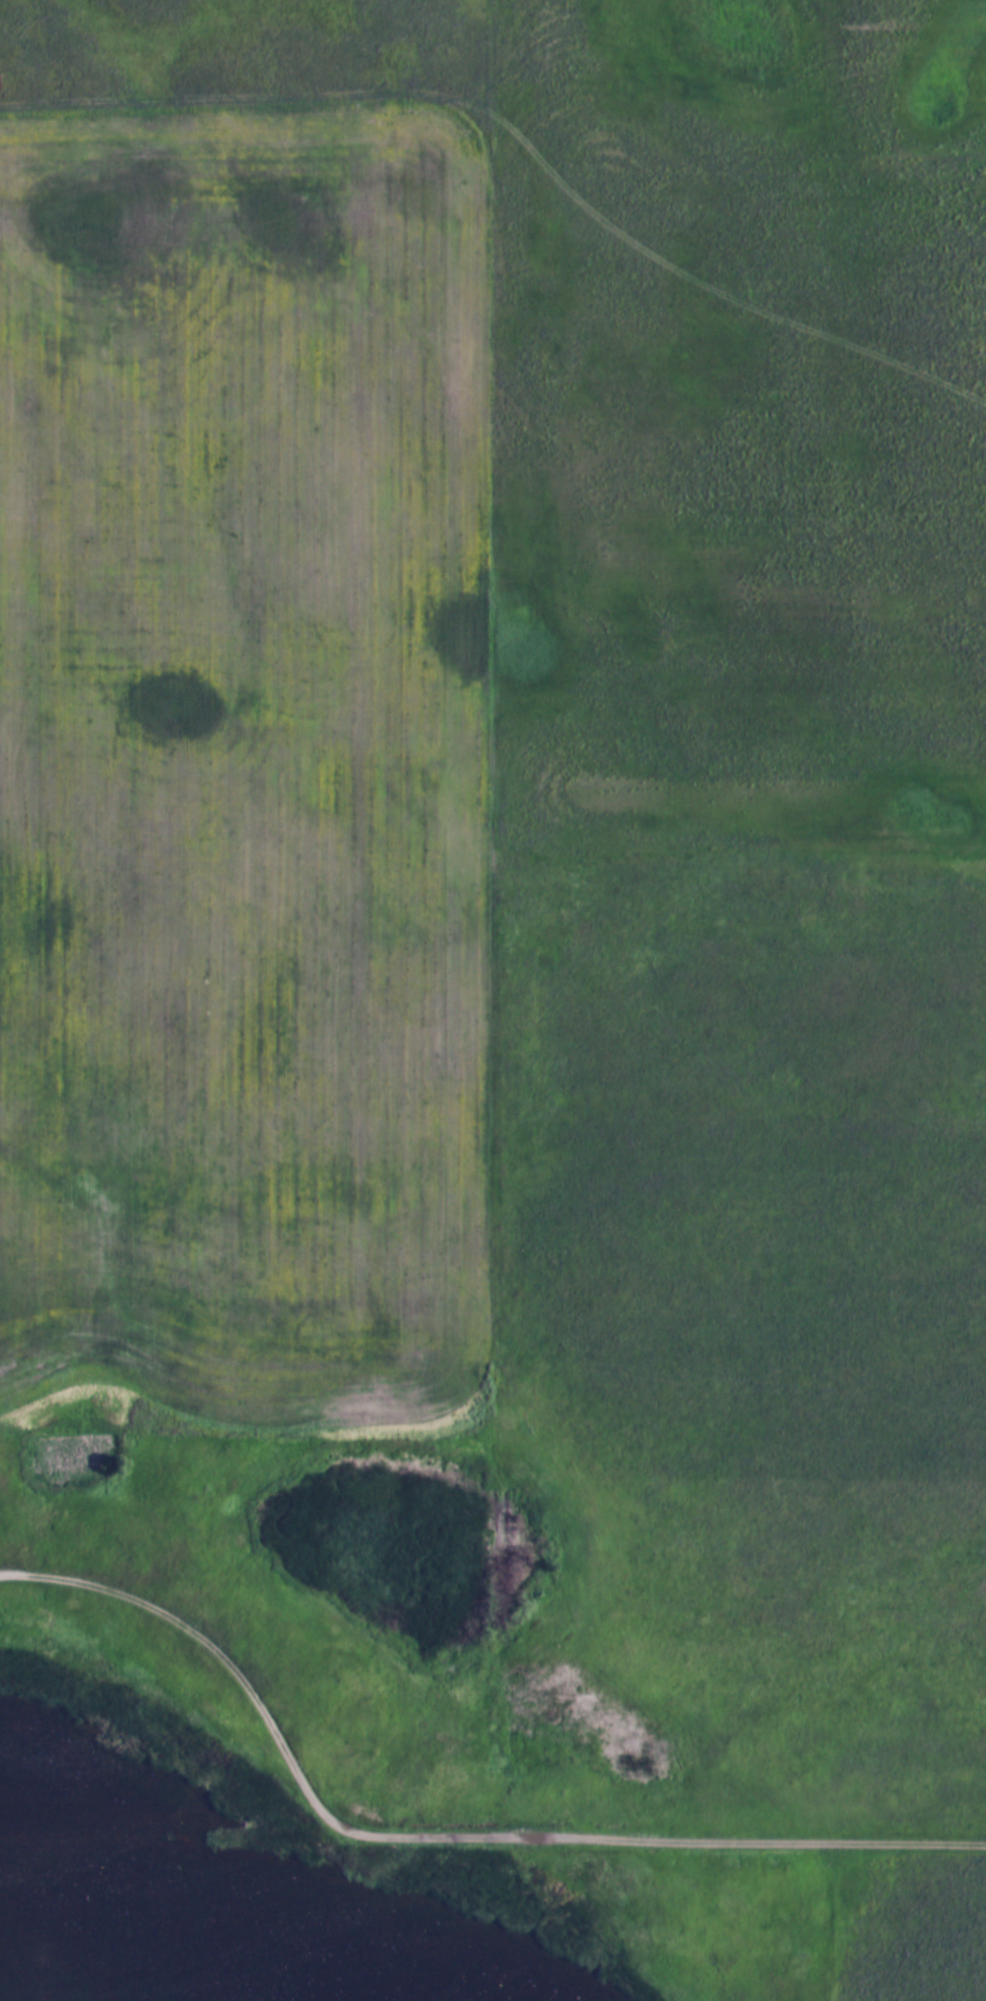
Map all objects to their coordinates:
road: (252, 106)
road: (436, 1836)

